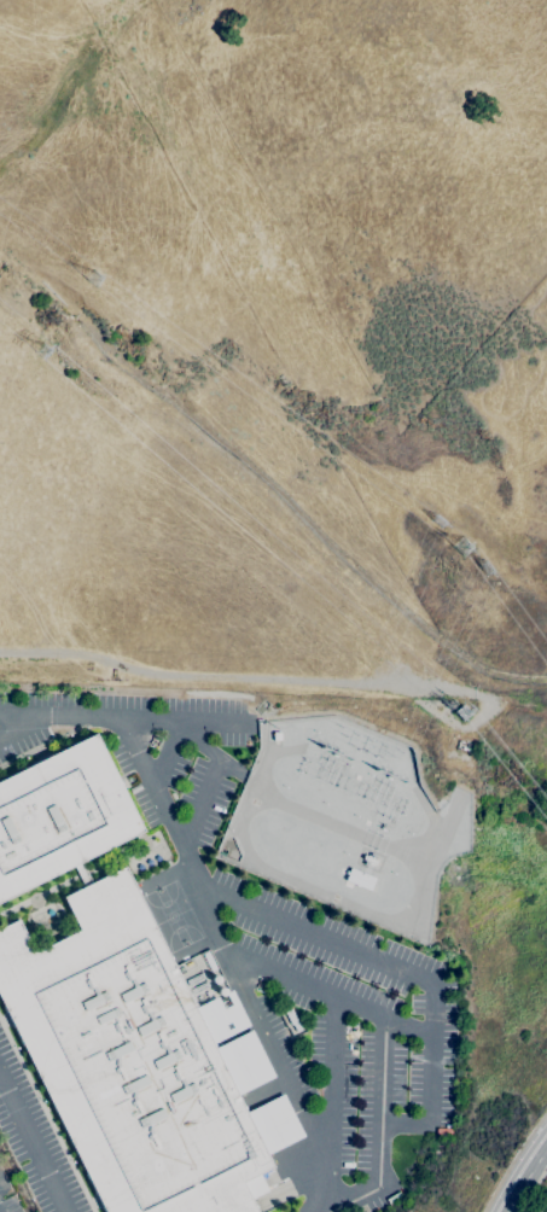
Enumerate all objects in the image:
power tower: (95, 280)
power tower: (43, 350)
power tower: (436, 523)
power tower: (485, 570)
power tower: (462, 712)
road: (121, 718)
road: (21, 723)
road: (198, 744)
road: (167, 752)
building: (458, 761)
road: (200, 803)
building: (60, 816)
power substation: (347, 820)
building: (369, 858)
building: (82, 874)
building: (360, 879)
park: (174, 917)
road: (219, 944)
road: (401, 971)
parking lot: (188, 985)
road: (326, 994)
building: (292, 1019)
building: (140, 1061)
road: (328, 1102)
road: (379, 1131)
road: (33, 1146)
road: (525, 1181)
road: (546, 1211)

